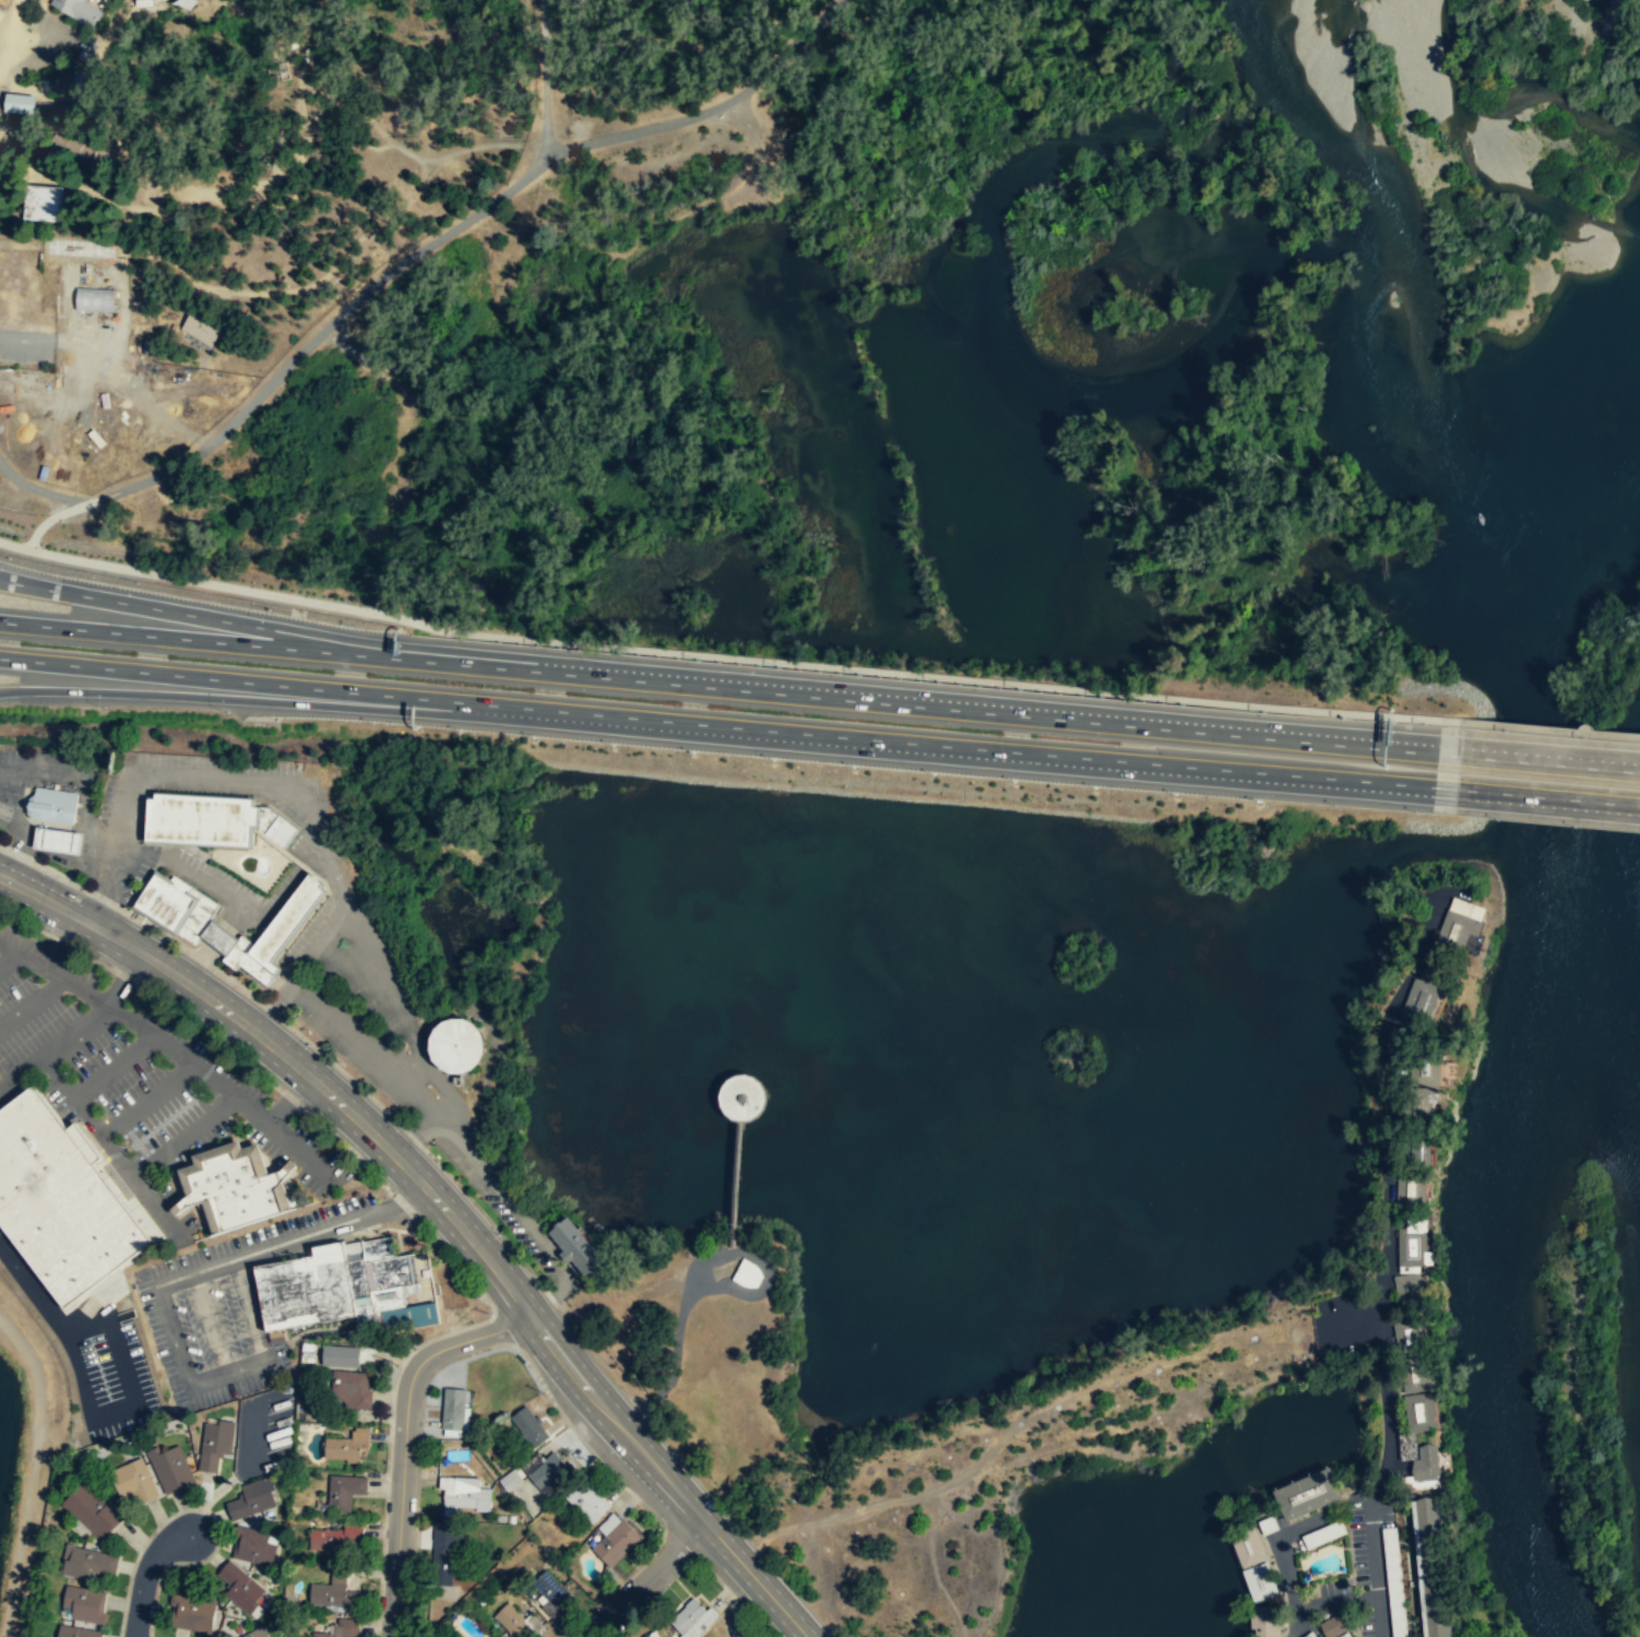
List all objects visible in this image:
building: (145, 2)
building: (78, 10)
road: (14, 15)
road: (14, 41)
road: (543, 80)
building: (62, 81)
building: (16, 103)
road: (369, 146)
road: (453, 151)
building: (39, 202)
park: (487, 239)
road: (421, 250)
road: (261, 292)
building: (95, 299)
building: (203, 330)
road: (27, 336)
road: (127, 380)
road: (39, 493)
road: (13, 545)
street lamp: (44, 548)
street lamp: (97, 558)
street lamp: (260, 586)
street lamp: (313, 597)
street lamp: (368, 606)
road: (177, 612)
road: (177, 638)
road: (740, 659)
road: (254, 681)
road: (254, 701)
road: (895, 702)
road: (1549, 729)
road: (972, 751)
road: (1538, 757)
road: (153, 781)
road: (1536, 799)
building: (51, 805)
road: (87, 814)
road: (309, 815)
building: (212, 819)
road: (16, 826)
parking lot: (119, 837)
building: (57, 839)
gas station: (57, 839)
road: (104, 845)
road: (324, 852)
road: (31, 859)
road: (12, 863)
road: (182, 870)
road: (336, 889)
building: (177, 905)
road: (94, 906)
building: (1463, 924)
building: (275, 932)
road: (212, 944)
road: (7, 957)
parking lot: (352, 992)
building: (1425, 994)
road: (32, 1005)
road: (273, 1008)
road: (393, 1009)
road: (99, 1012)
road: (333, 1019)
building: (459, 1045)
road: (174, 1049)
road: (223, 1051)
road: (115, 1067)
building: (1426, 1070)
road: (21, 1073)
building: (745, 1098)
road: (148, 1101)
road: (289, 1101)
building: (1422, 1106)
road: (419, 1127)
road: (183, 1134)
road: (112, 1147)
building: (1421, 1151)
pier: (737, 1185)
building: (237, 1189)
building: (1413, 1190)
building: (59, 1202)
road: (407, 1203)
road: (443, 1208)
road: (409, 1214)
road: (520, 1217)
road: (382, 1229)
building: (1416, 1244)
building: (578, 1247)
road: (1388, 1265)
road: (698, 1266)
building: (748, 1273)
road: (181, 1276)
building: (342, 1288)
building: (1410, 1291)
road: (106, 1297)
road: (44, 1302)
road: (251, 1308)
road: (212, 1322)
building: (1410, 1337)
building: (345, 1356)
street lamp: (392, 1363)
building: (1414, 1379)
building: (353, 1388)
building: (453, 1409)
road: (114, 1411)
building: (531, 1425)
road: (263, 1430)
parking lot: (264, 1432)
road: (404, 1438)
building: (1406, 1440)
building: (215, 1443)
building: (343, 1448)
building: (171, 1468)
building: (546, 1469)
street lamp: (385, 1470)
road: (33, 1472)
building: (133, 1480)
building: (511, 1480)
building: (345, 1491)
road: (216, 1492)
building: (465, 1492)
building: (1306, 1495)
building: (252, 1498)
building: (589, 1500)
building: (94, 1510)
building: (335, 1537)
building: (616, 1542)
building: (253, 1545)
building: (447, 1552)
building: (86, 1562)
building: (1253, 1566)
building: (1433, 1568)
road: (145, 1575)
road: (646, 1580)
building: (240, 1587)
building: (551, 1588)
building: (334, 1597)
building: (85, 1603)
street lamp: (598, 1605)
building: (192, 1612)
building: (693, 1618)
building: (513, 1620)
building: (1262, 1623)
building: (1333, 1627)
building: (342, 1628)
building: (75, 1632)
building: (258, 1633)
building: (738, 1636)
building: (1307, 1636)

